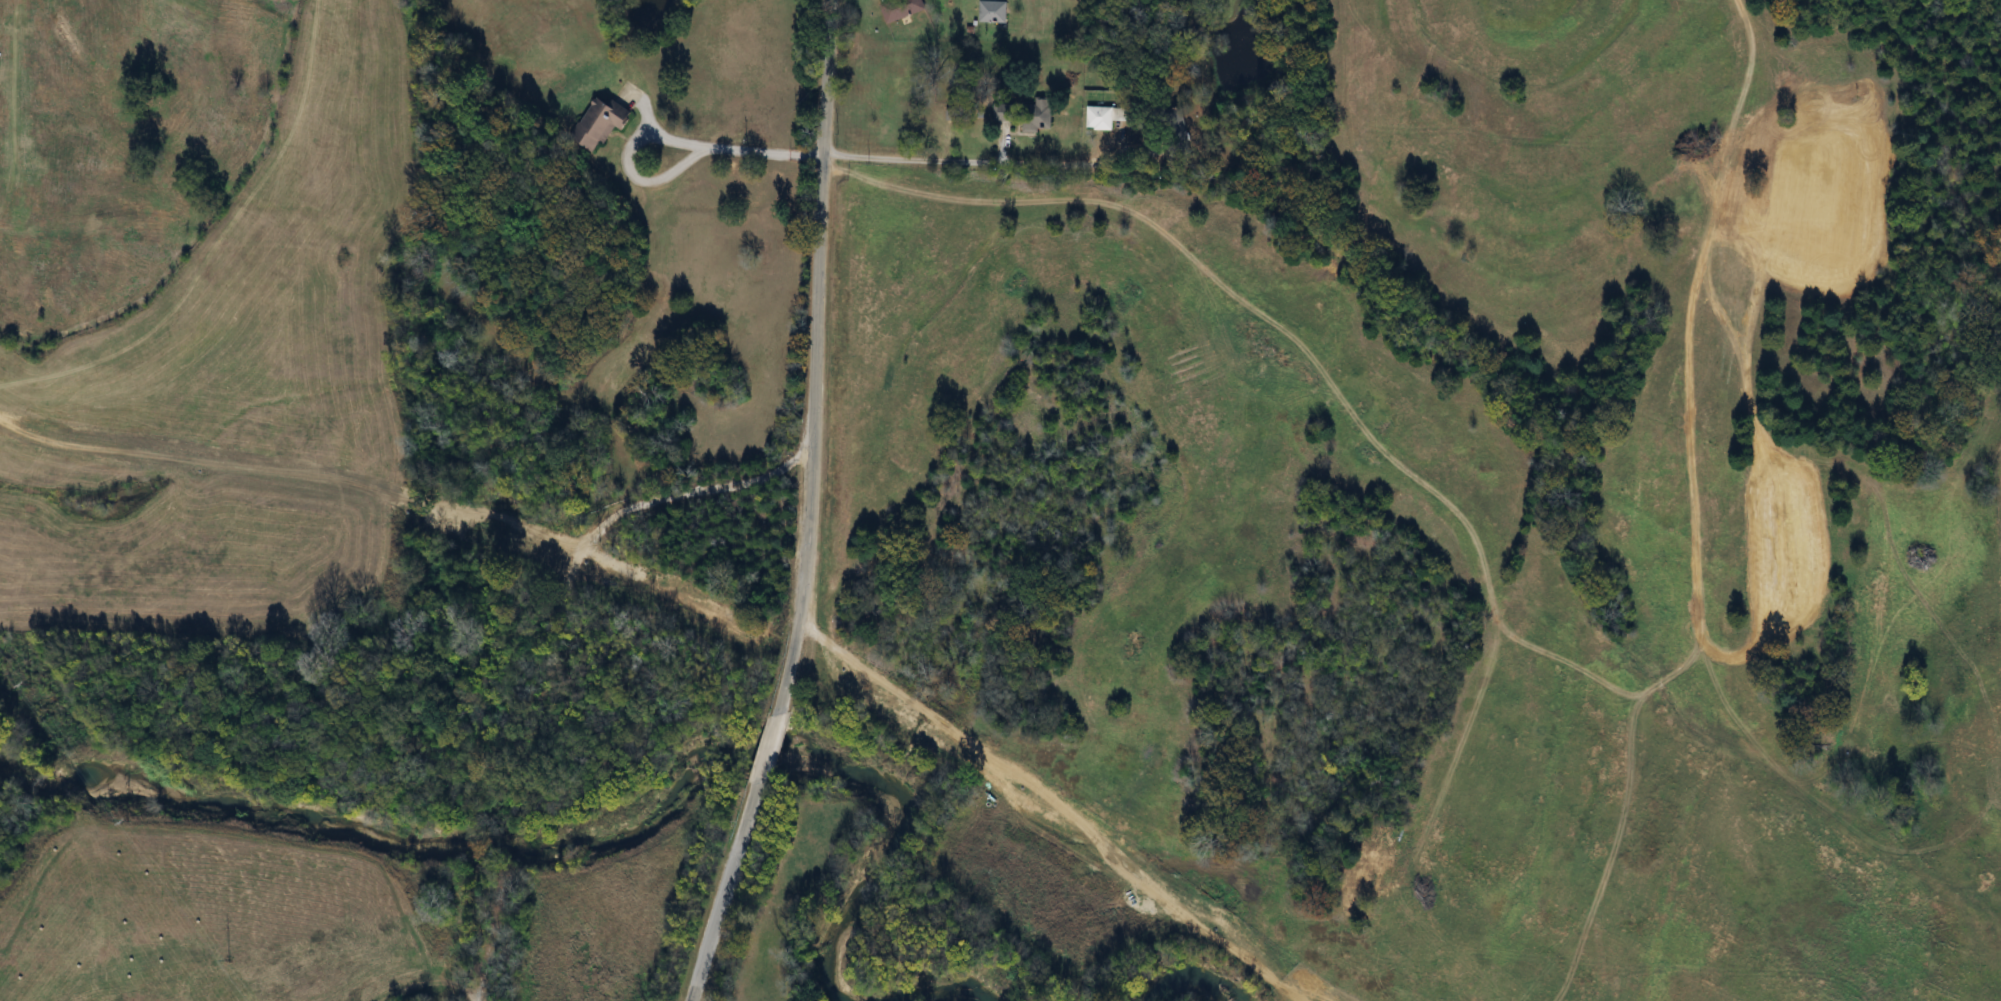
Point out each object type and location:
building: (904, 8)
building: (993, 12)
building: (1004, 112)
building: (1038, 116)
building: (1106, 117)
building: (601, 122)
road: (665, 141)
road: (1008, 160)
road: (816, 343)
road: (764, 760)
road: (717, 918)
road: (486, 938)

